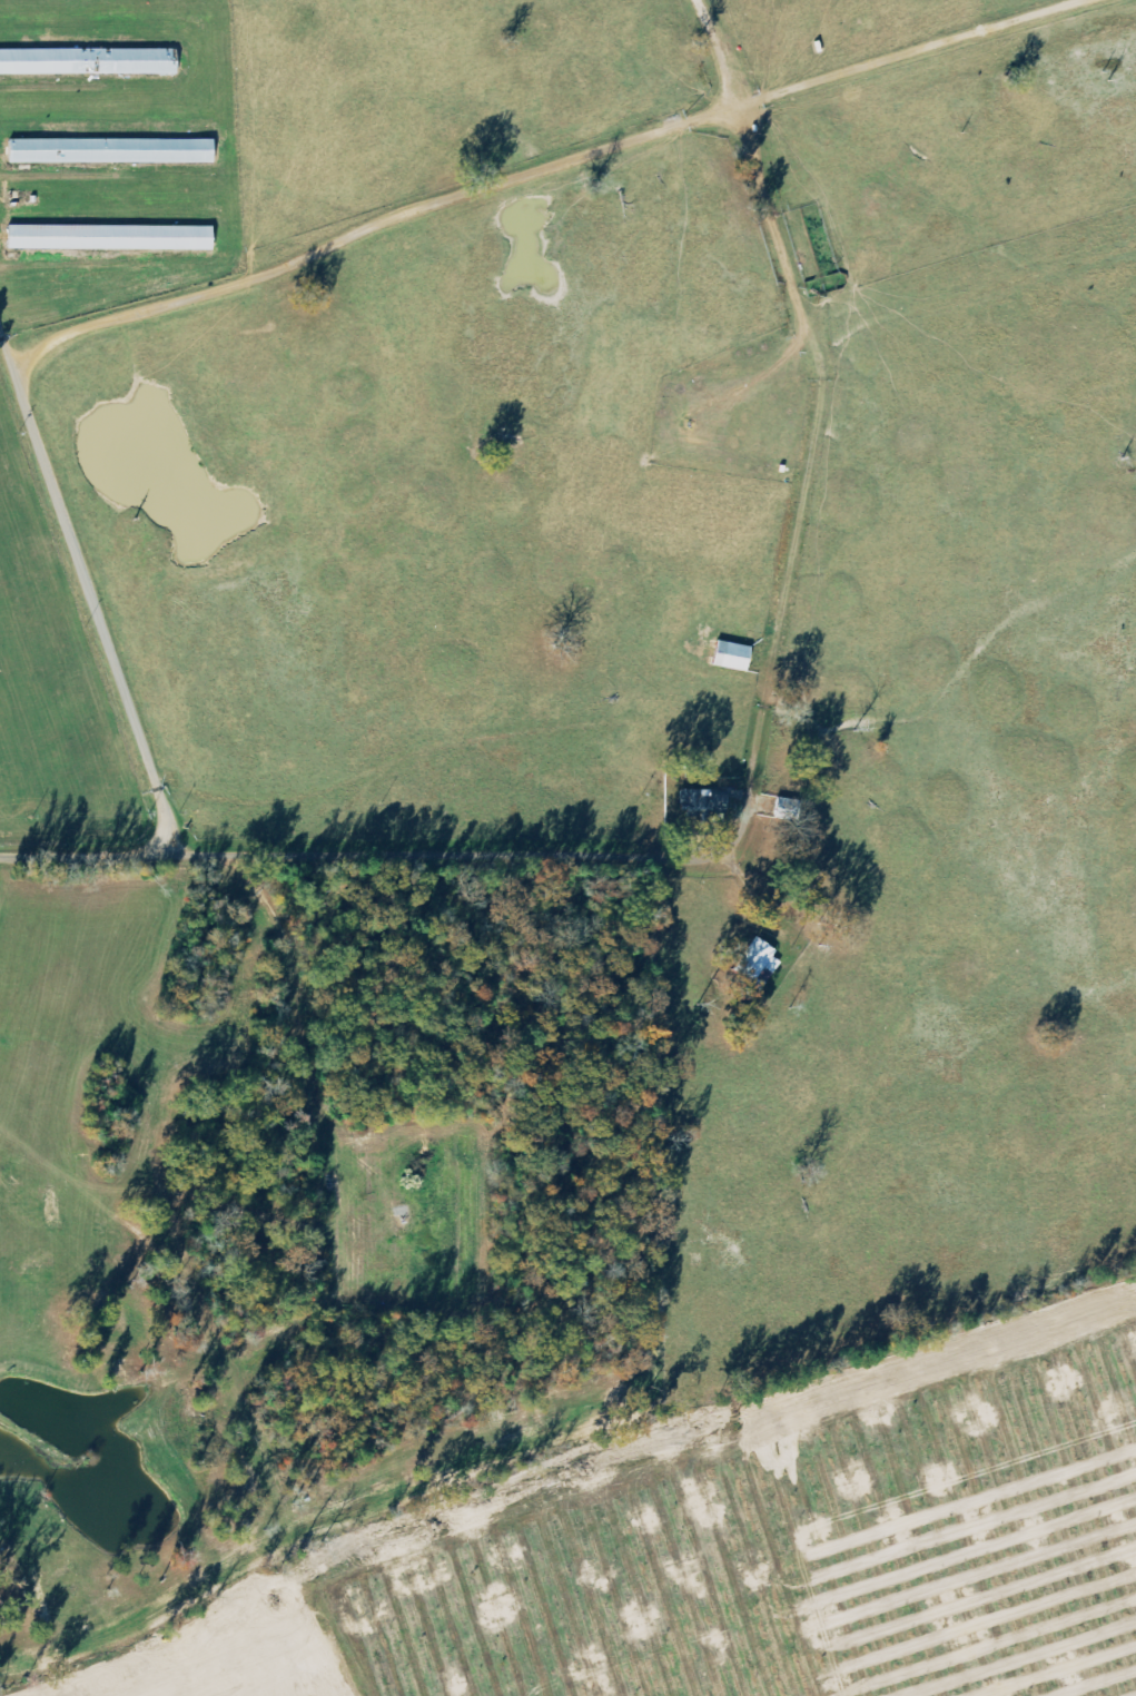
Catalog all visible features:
building: (88, 62)
building: (110, 152)
road: (405, 208)
building: (109, 239)
road: (93, 604)
building: (731, 657)
building: (700, 805)
road: (735, 825)
building: (755, 965)

